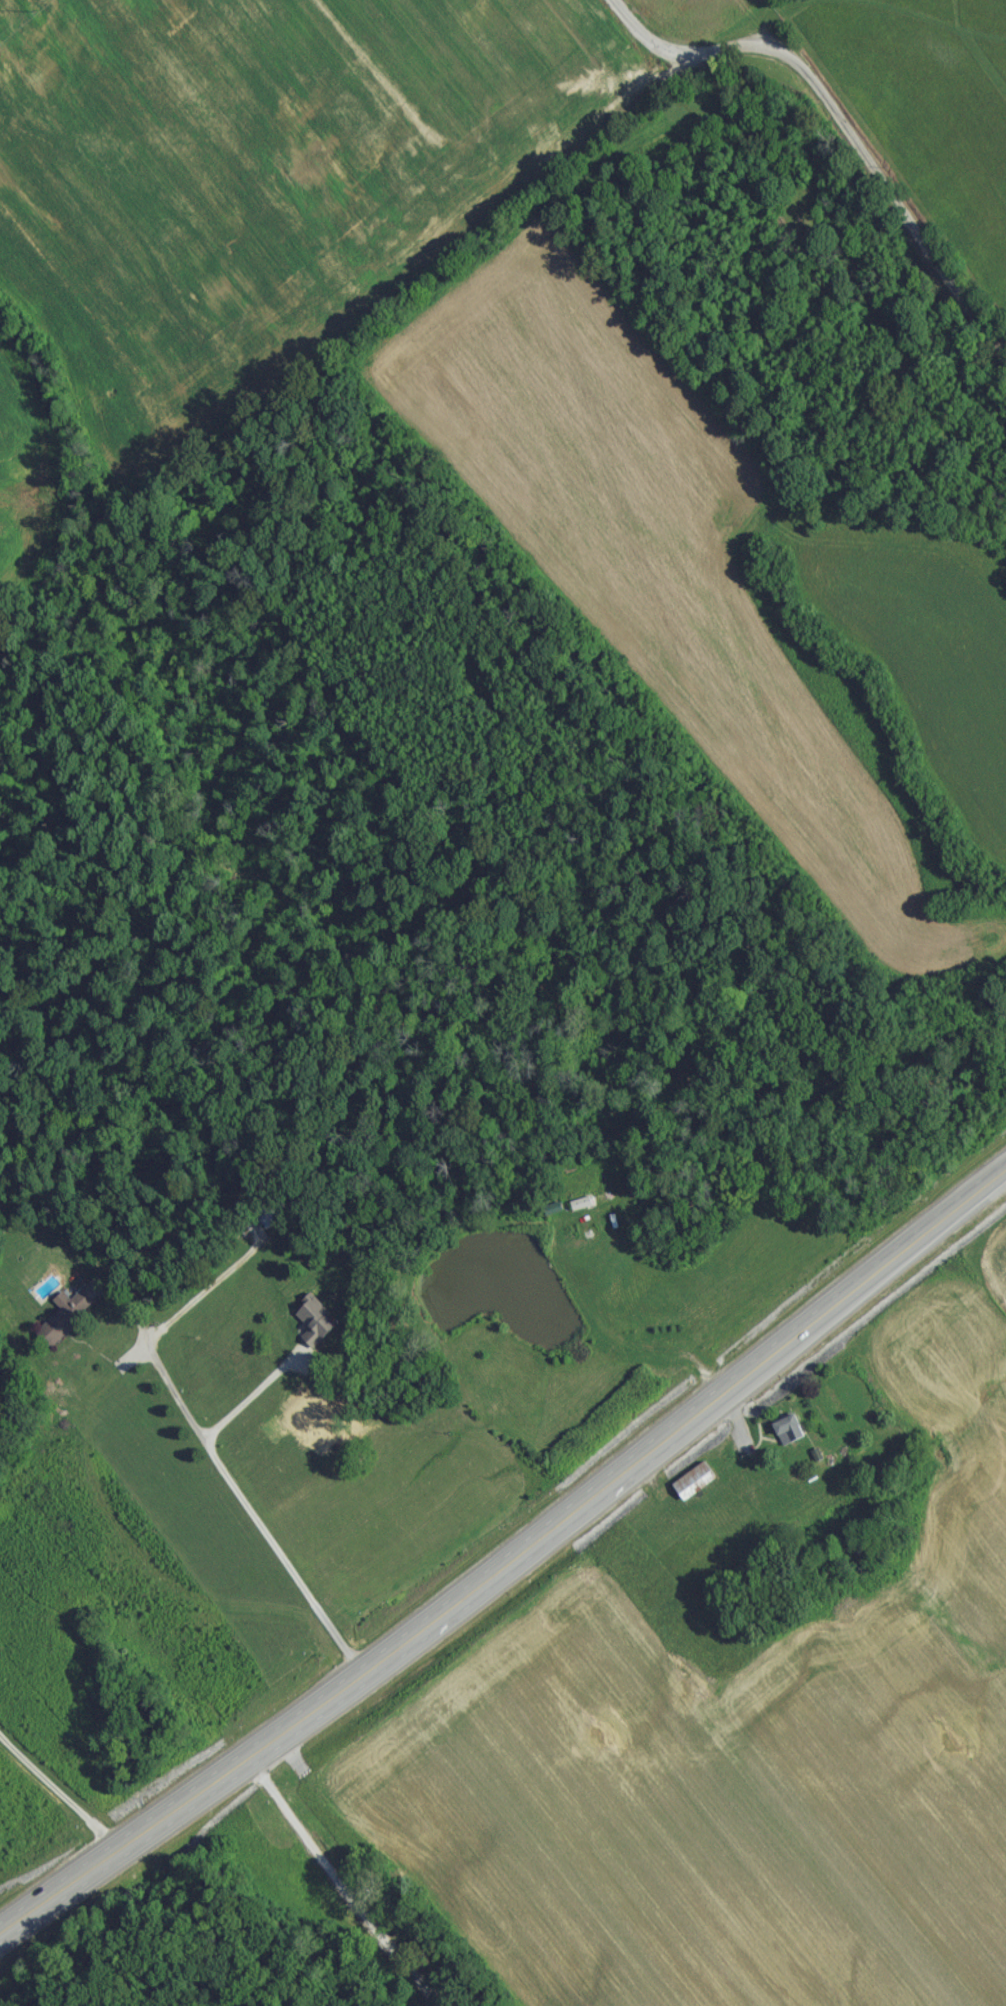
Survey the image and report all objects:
road: (838, 122)
road: (253, 1392)
building: (787, 1446)
building: (699, 1487)
road: (243, 1504)
road: (509, 1561)
road: (56, 1798)

